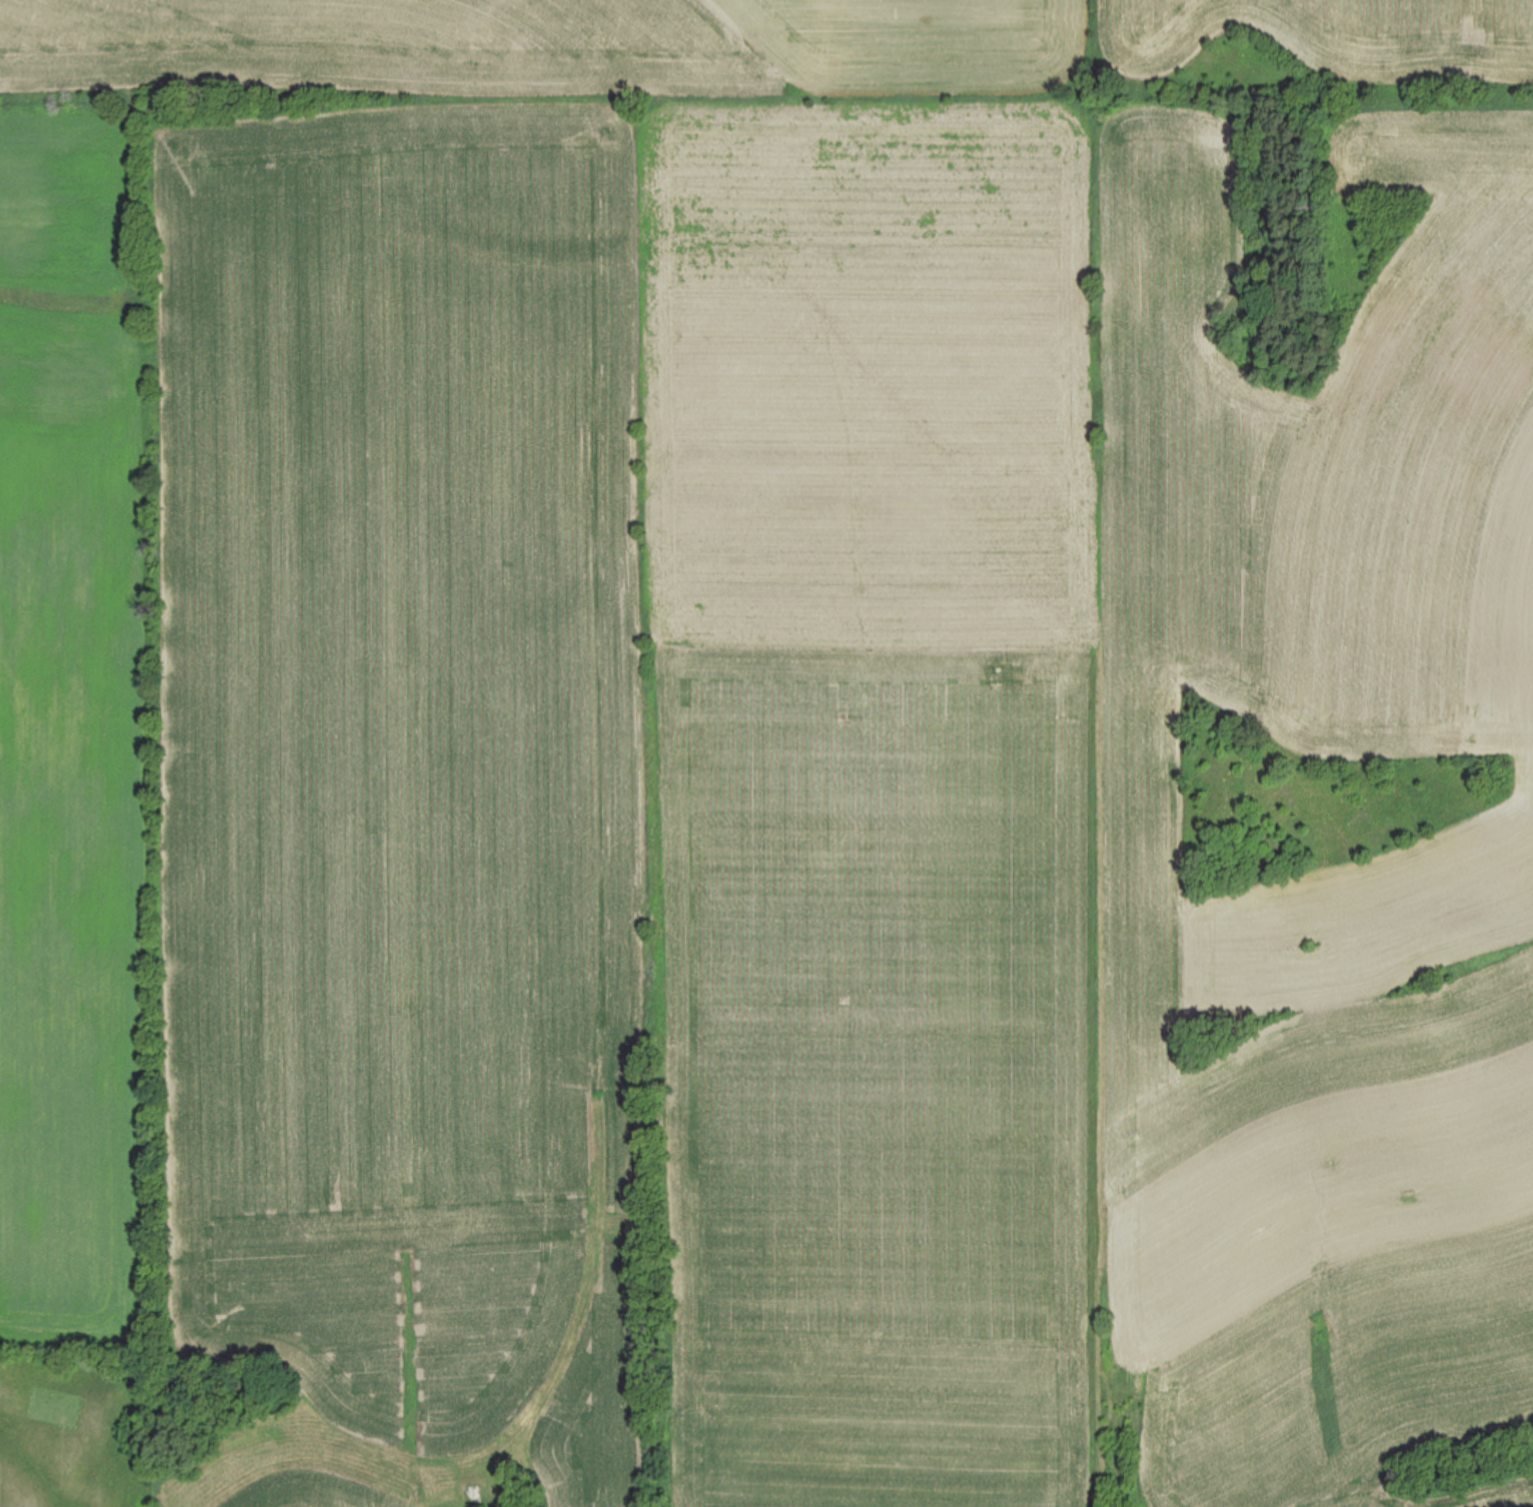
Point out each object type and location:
crop: (766, 753)

